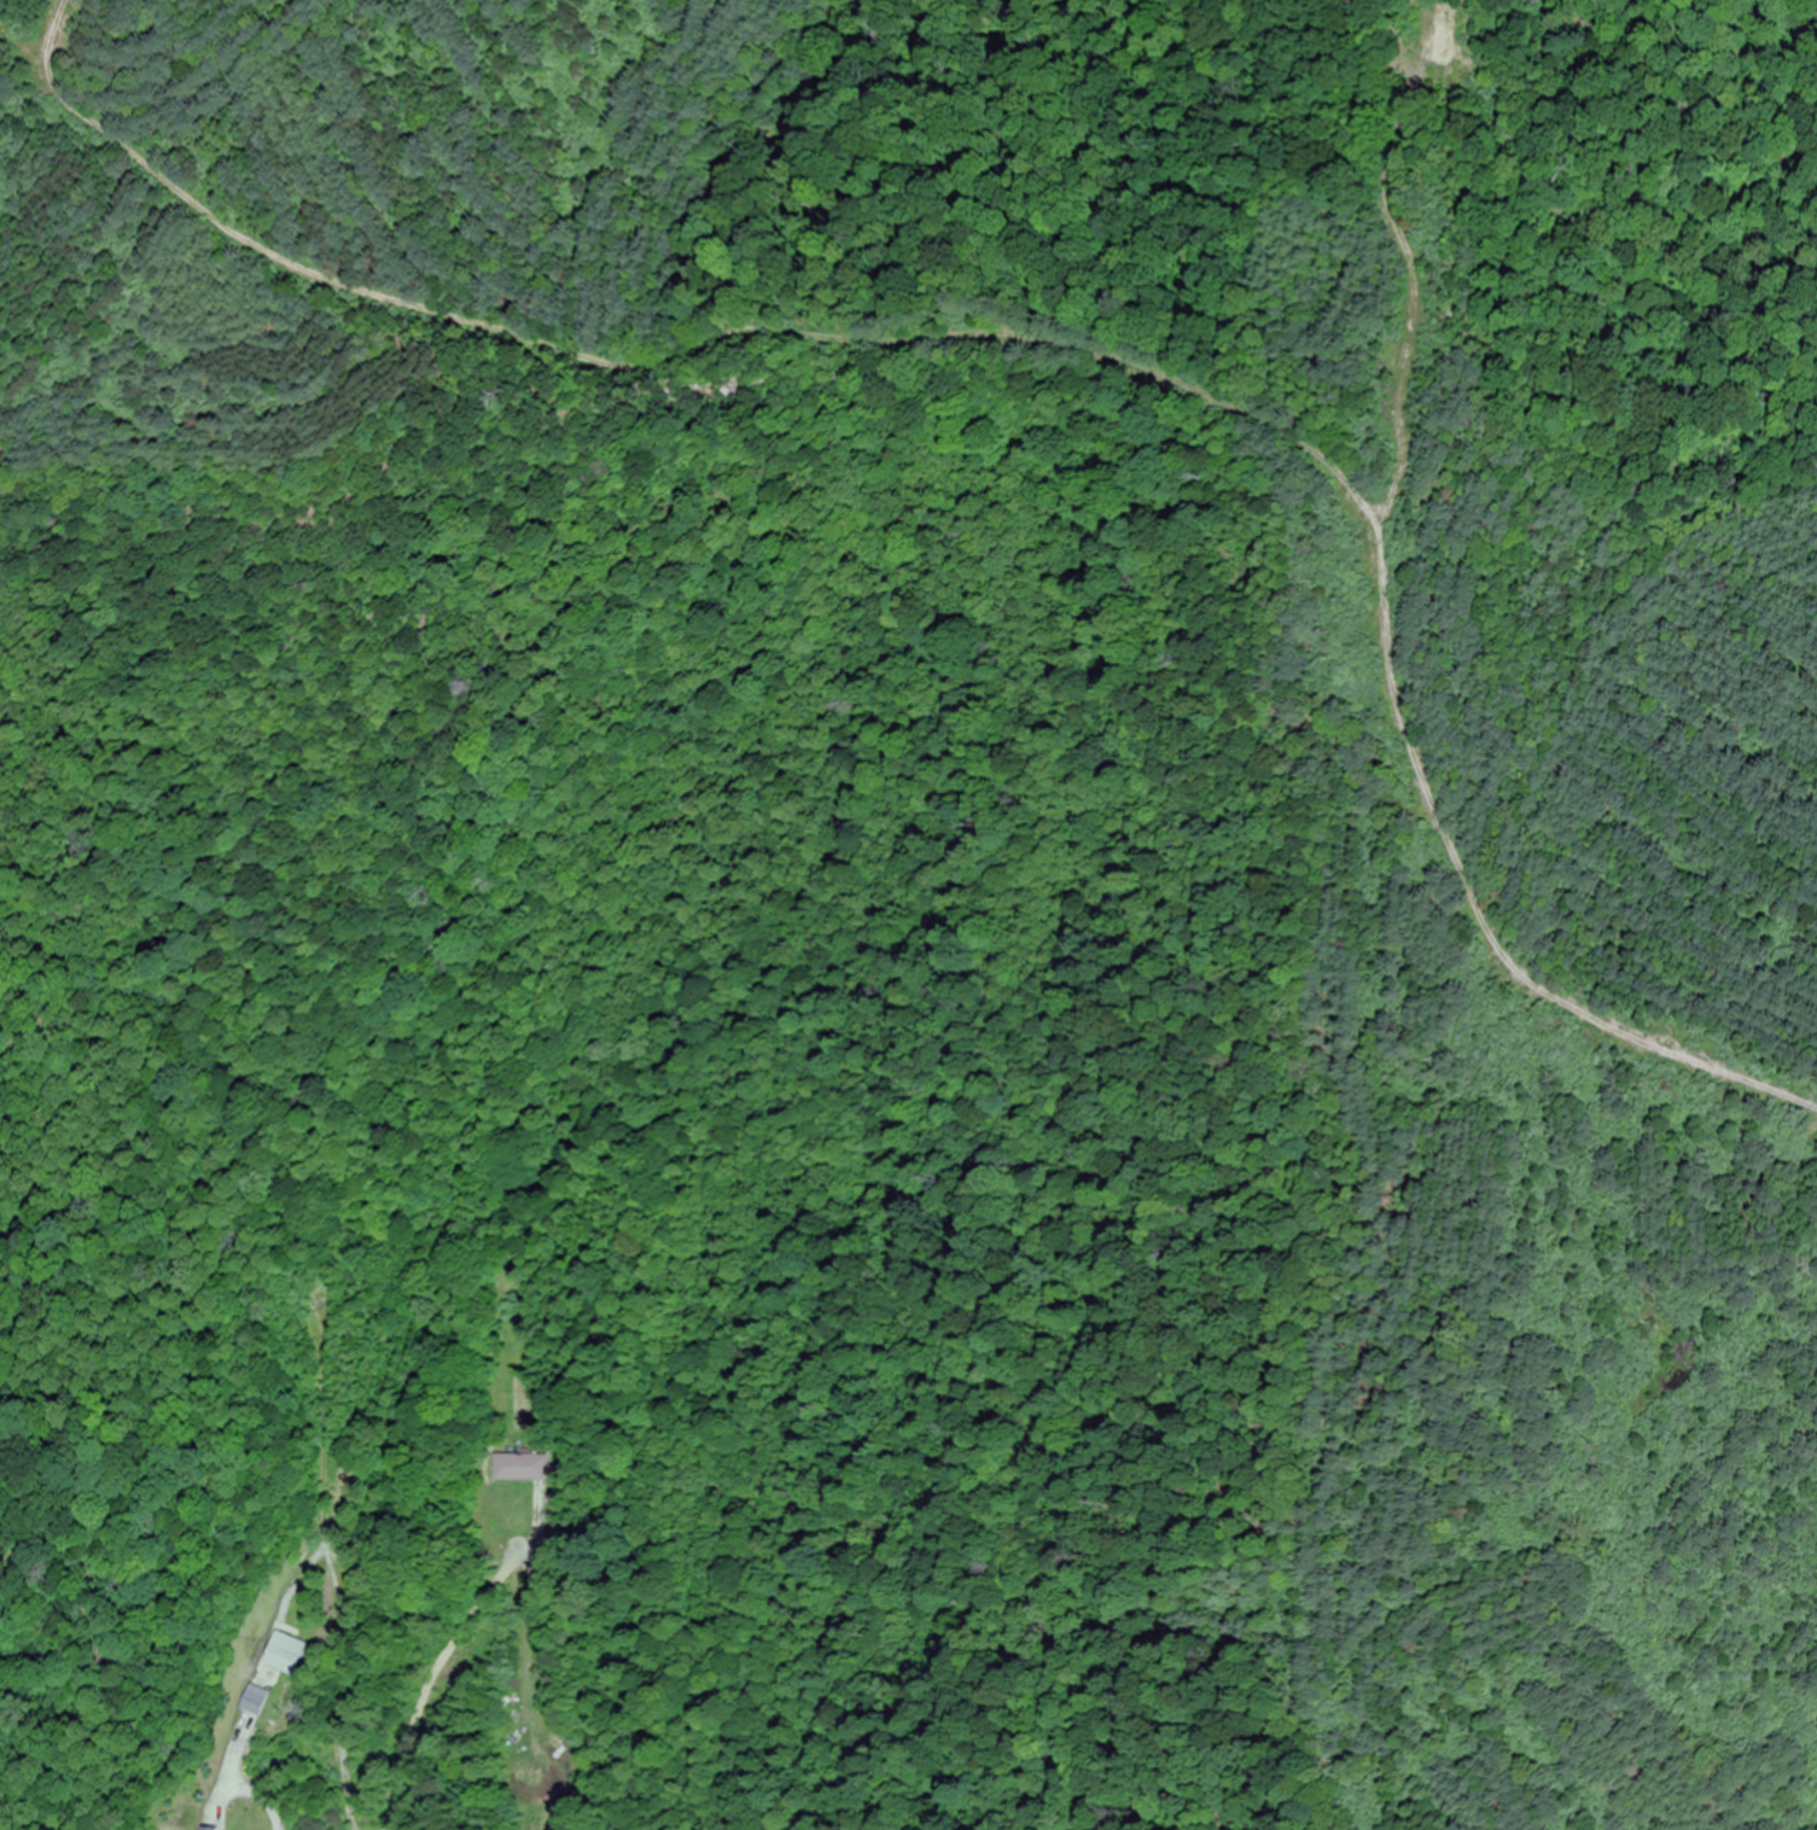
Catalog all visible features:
building: (519, 1468)
building: (287, 1655)
building: (256, 1700)
building: (210, 1829)

